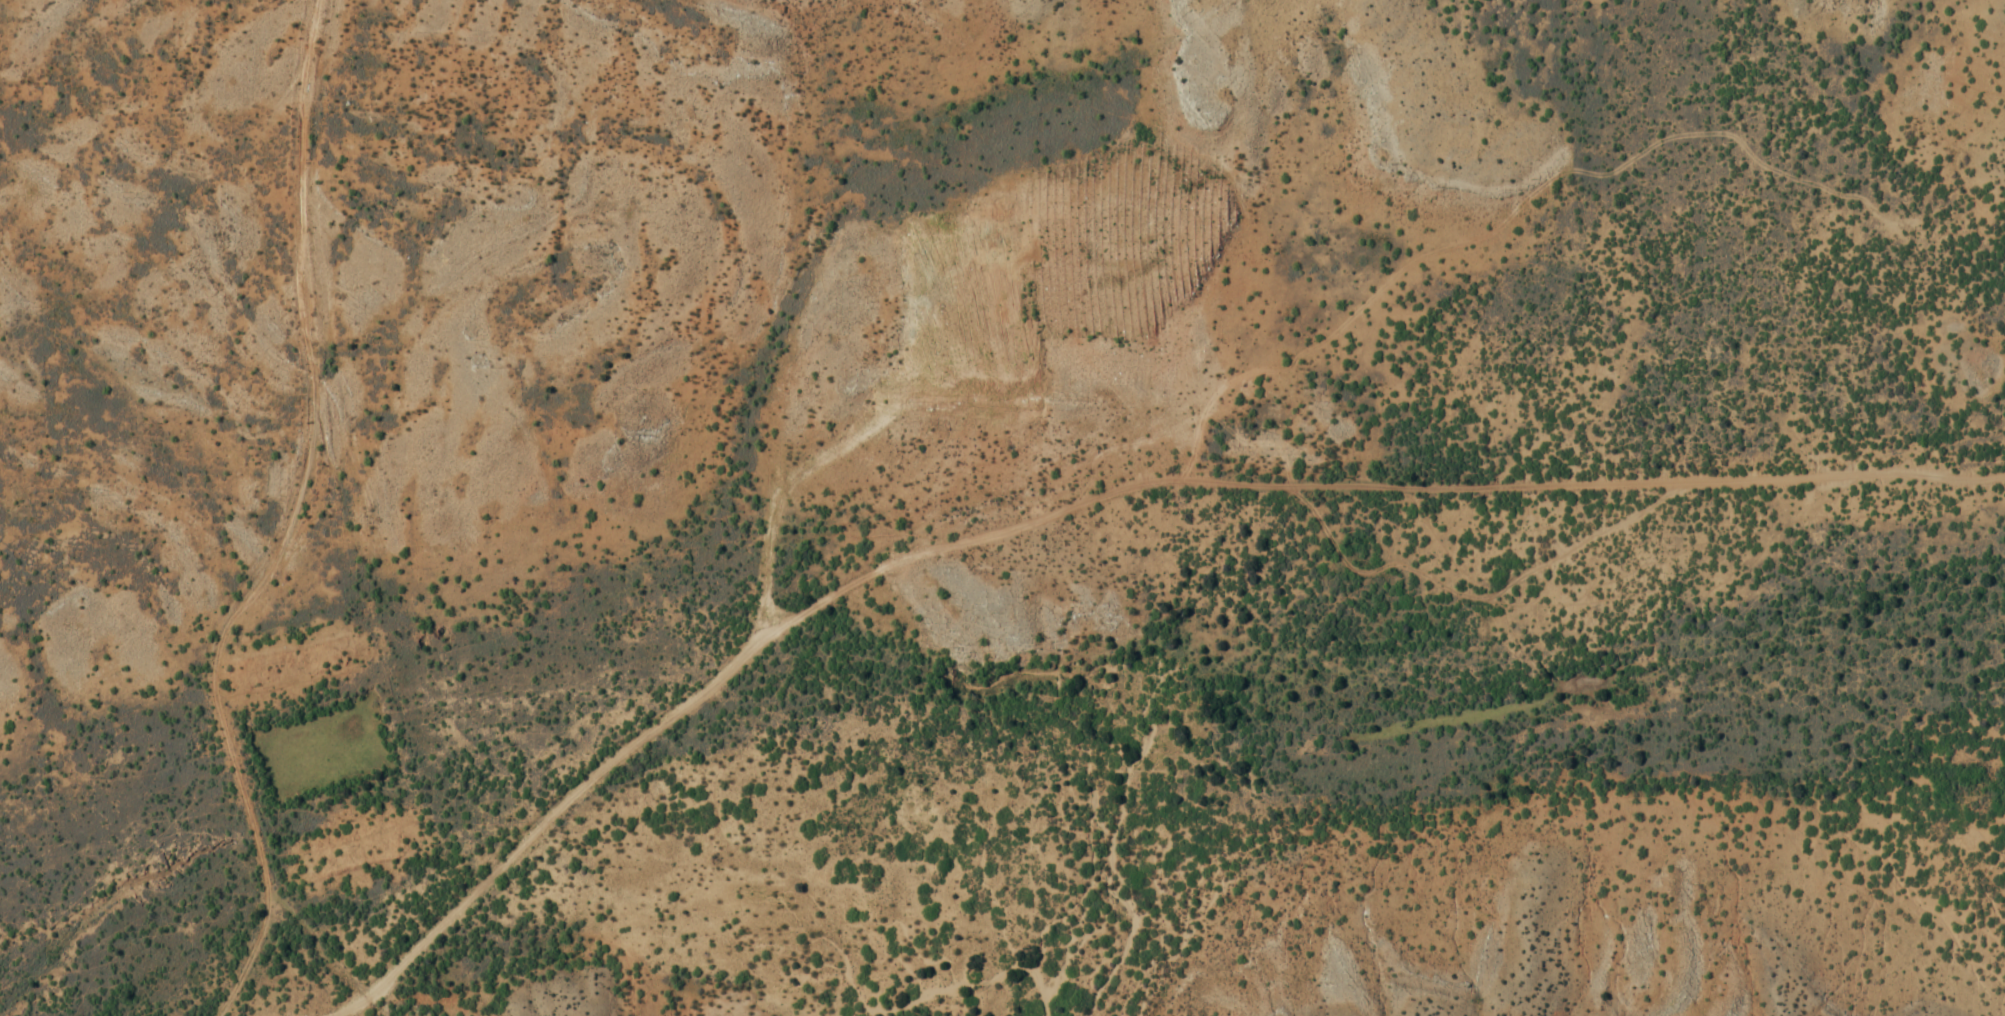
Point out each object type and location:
road: (1080, 501)
road: (301, 528)

